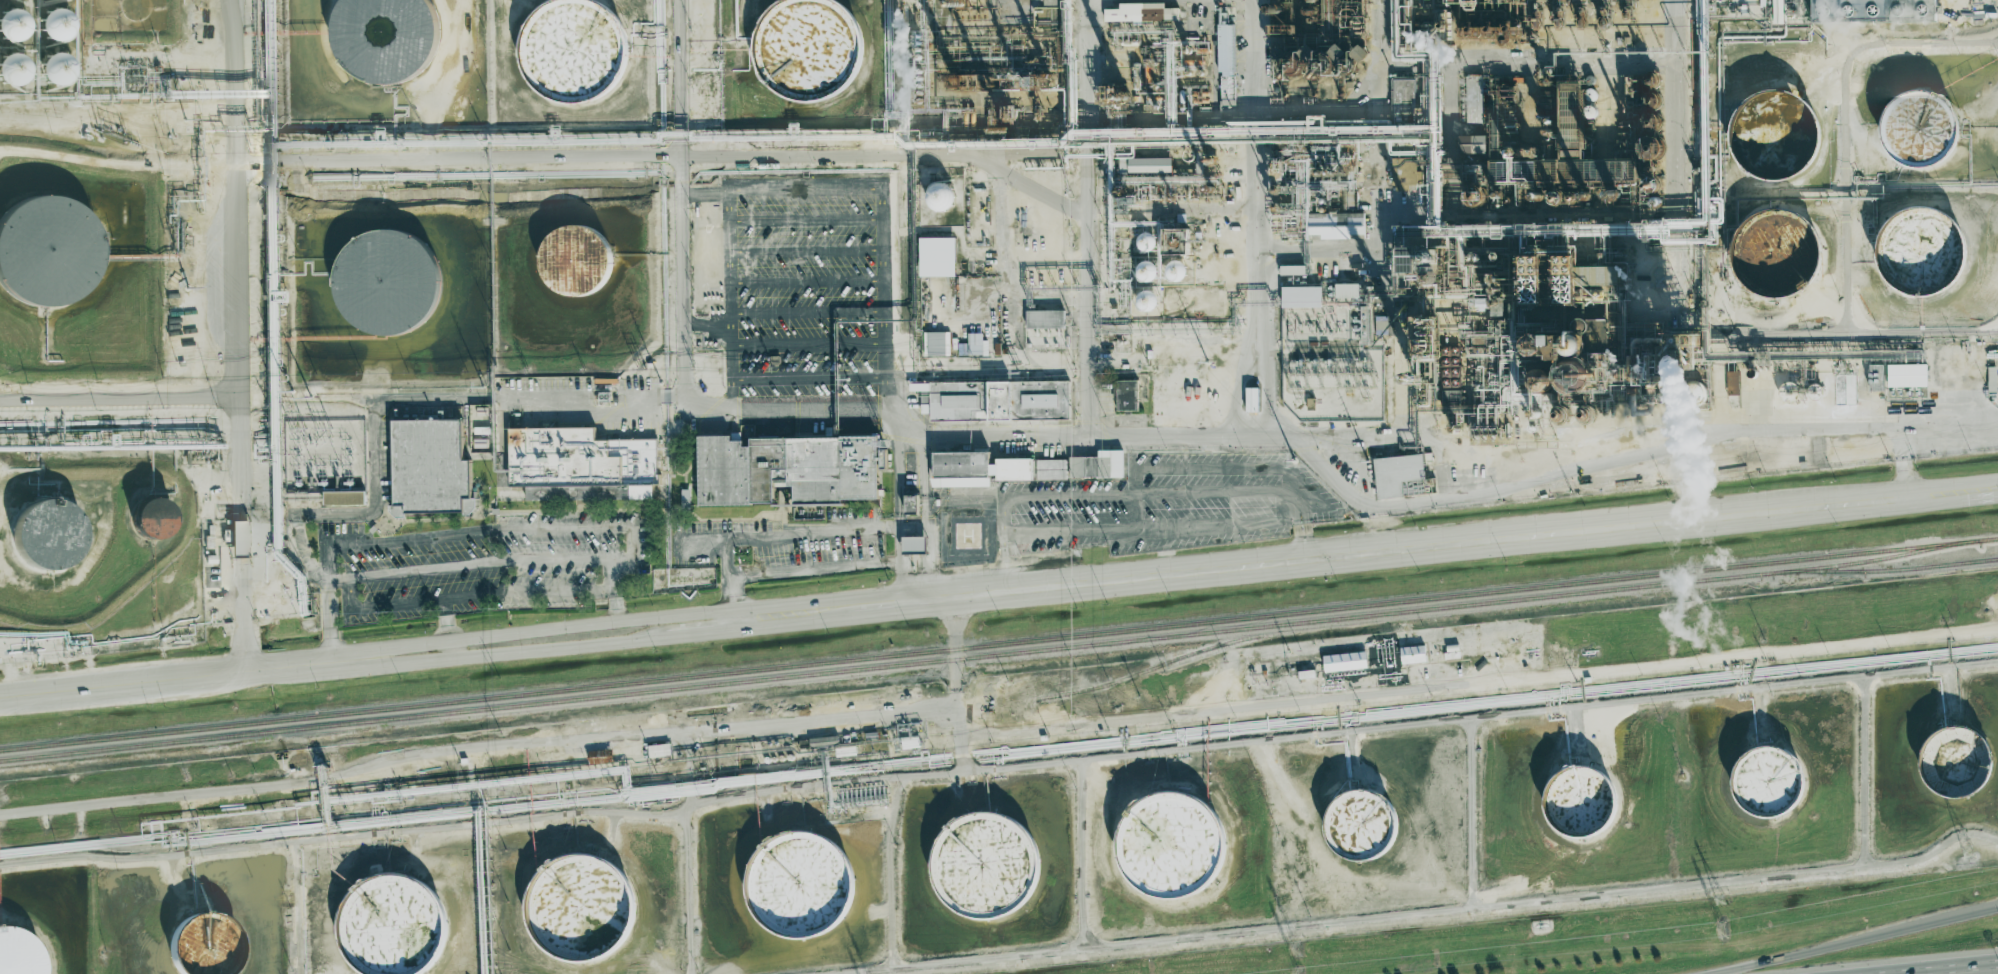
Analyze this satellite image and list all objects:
building: (1053, 3)
building: (1875, 12)
building: (1142, 13)
building: (1791, 14)
building: (12, 20)
storage tank: (12, 20)
building: (54, 21)
storage tank: (54, 21)
building: (381, 33)
storage tank: (381, 33)
building: (572, 43)
storage tank: (572, 43)
road: (1867, 43)
building: (808, 45)
storage tank: (808, 45)
building: (1361, 53)
road: (1519, 57)
building: (53, 63)
storage tank: (53, 63)
building: (14, 64)
storage tank: (14, 64)
building: (1226, 66)
building: (1404, 88)
building: (1474, 99)
road: (1356, 100)
building: (1918, 133)
storage tank: (1918, 133)
building: (1776, 139)
storage tank: (1776, 139)
building: (1472, 144)
road: (716, 145)
building: (1149, 165)
building: (1404, 174)
road: (814, 186)
road: (1045, 195)
building: (940, 196)
road: (666, 205)
road: (1085, 215)
road: (805, 219)
building: (1337, 225)
building: (1146, 241)
building: (41, 250)
storage tank: (41, 250)
road: (806, 250)
building: (1776, 255)
storage tank: (1776, 255)
road: (1007, 256)
building: (1923, 256)
storage tank: (1923, 256)
building: (937, 257)
building: (577, 260)
storage tank: (577, 260)
building: (1176, 270)
building: (1292, 270)
building: (1146, 271)
road: (807, 280)
building: (389, 281)
storage tank: (389, 281)
parking lot: (807, 290)
building: (1347, 291)
building: (1301, 297)
building: (1146, 300)
road: (808, 312)
building: (1045, 319)
road: (1994, 328)
road: (245, 335)
road: (808, 342)
building: (936, 344)
building: (977, 344)
building: (1907, 375)
road: (809, 377)
building: (1876, 377)
building: (1732, 385)
building: (1844, 389)
building: (1694, 394)
road: (428, 395)
building: (1127, 395)
building: (1252, 399)
road: (124, 400)
building: (1000, 400)
building: (743, 433)
road: (977, 434)
road: (1398, 435)
road: (1818, 443)
power substation: (325, 461)
building: (578, 464)
road: (1906, 465)
building: (430, 469)
building: (787, 469)
building: (975, 469)
road: (1220, 473)
building: (1396, 473)
road: (1133, 485)
road: (1681, 489)
building: (641, 492)
road: (27, 493)
road: (1466, 494)
building: (344, 497)
road: (1145, 497)
parking lot: (1169, 501)
building: (911, 503)
road: (913, 515)
building: (152, 517)
storage tank: (152, 517)
road: (1132, 517)
road: (1001, 519)
road: (901, 529)
building: (48, 532)
storage tank: (48, 532)
road: (483, 532)
road: (1157, 535)
building: (240, 537)
road: (888, 540)
road: (1457, 541)
building: (913, 544)
parking lot: (783, 545)
road: (305, 554)
road: (1004, 562)
road: (901, 564)
parking lot: (485, 566)
railway: (1885, 570)
road: (337, 580)
road: (610, 585)
road: (728, 599)
road: (881, 599)
road: (620, 619)
road: (330, 622)
road: (447, 634)
railway: (999, 644)
road: (423, 653)
building: (1413, 654)
railway: (990, 655)
building: (1345, 661)
railway: (1152, 667)
road: (952, 681)
road: (1535, 711)
road: (473, 746)
building: (659, 750)
building: (1956, 767)
building: (1769, 787)
building: (1580, 806)
building: (1363, 831)
building: (1170, 850)
road: (1080, 853)
power tower: (1970, 854)
building: (985, 867)
road: (889, 871)
building: (797, 889)
road: (688, 893)
power tower: (1718, 902)
road: (297, 907)
road: (1990, 910)
building: (581, 911)
building: (391, 928)
power tower: (1722, 929)
road: (1859, 942)
building: (198, 944)
power tower: (1295, 949)
building: (19, 950)
road: (1954, 969)

